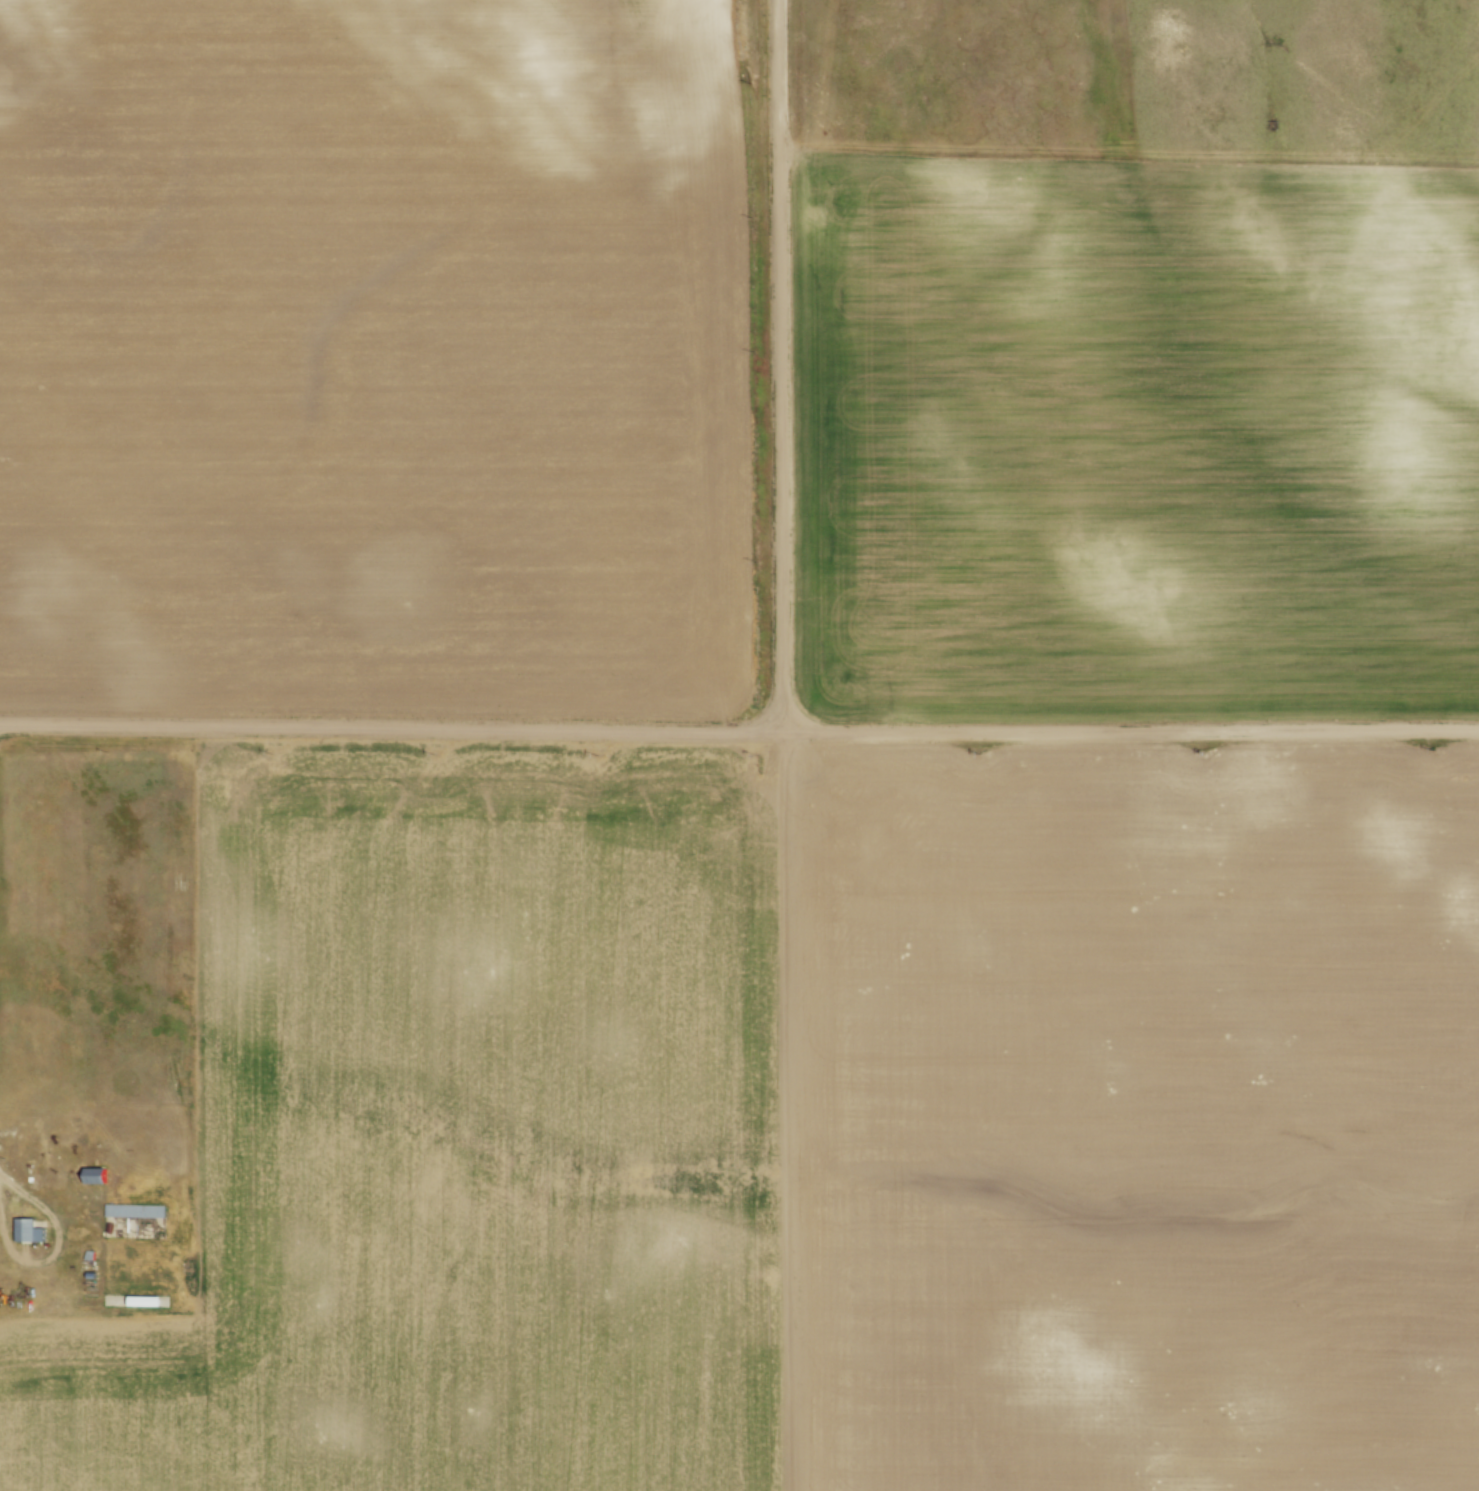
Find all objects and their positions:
crop: (375, 353)
road: (783, 366)
crop: (1136, 433)
road: (739, 732)
crop: (810, 1127)
building: (97, 1174)
building: (138, 1208)
building: (31, 1229)
road: (56, 1248)

